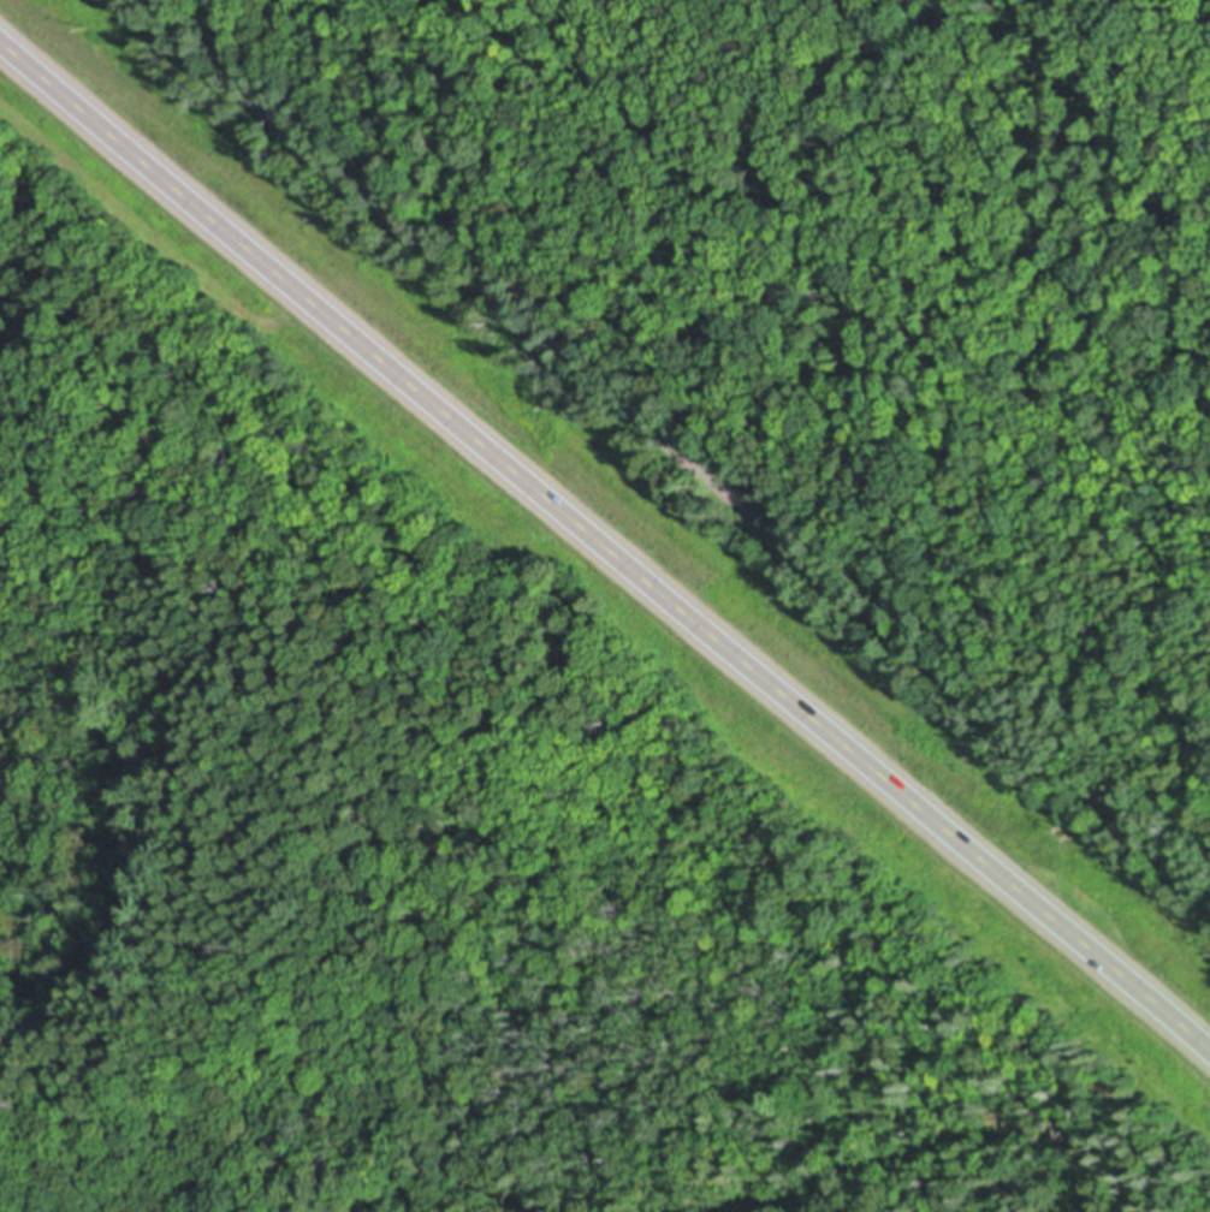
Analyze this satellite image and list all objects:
road: (668, 445)
road: (605, 552)
river: (148, 832)
river: (918, 1140)
river: (452, 1193)

